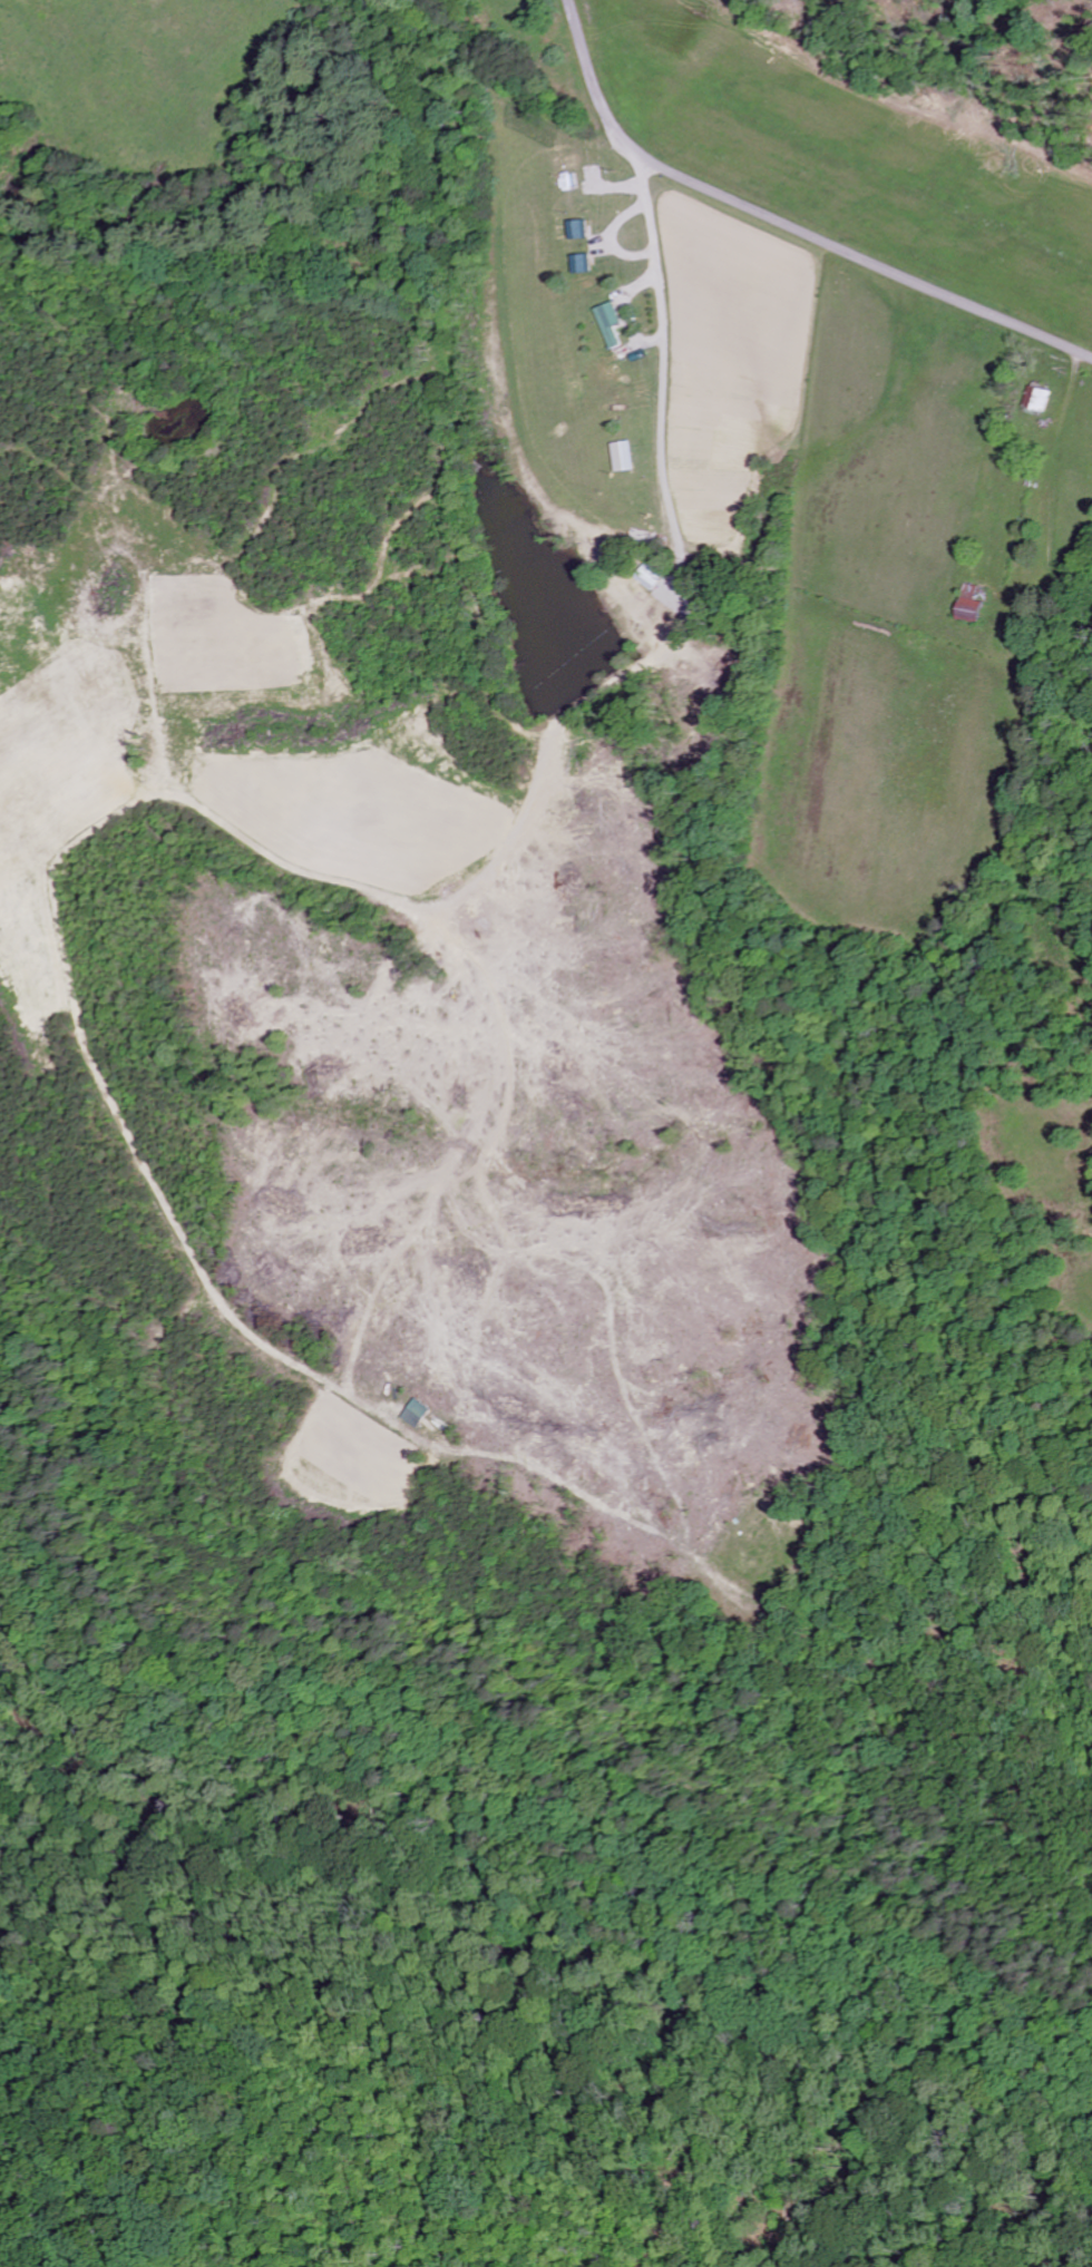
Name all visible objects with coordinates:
road: (615, 188)
road: (783, 226)
road: (608, 242)
building: (578, 265)
road: (625, 316)
building: (608, 324)
road: (663, 358)
building: (1036, 401)

